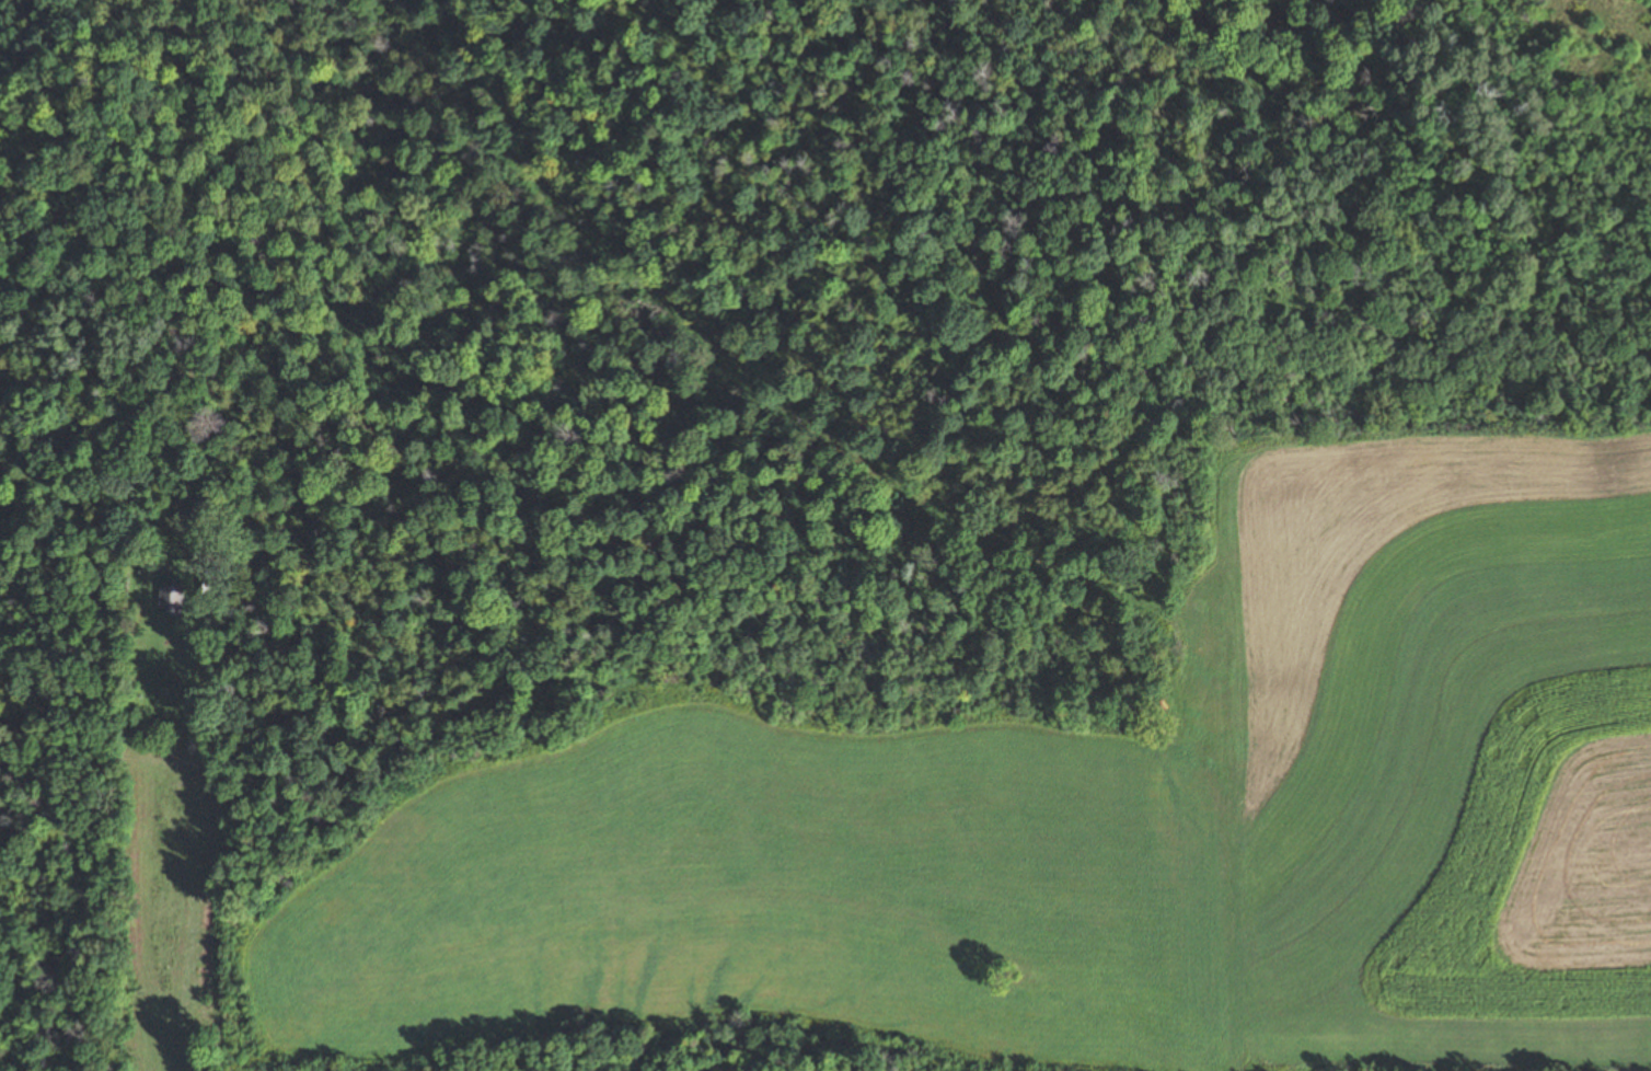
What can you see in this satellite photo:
building: (173, 597)

